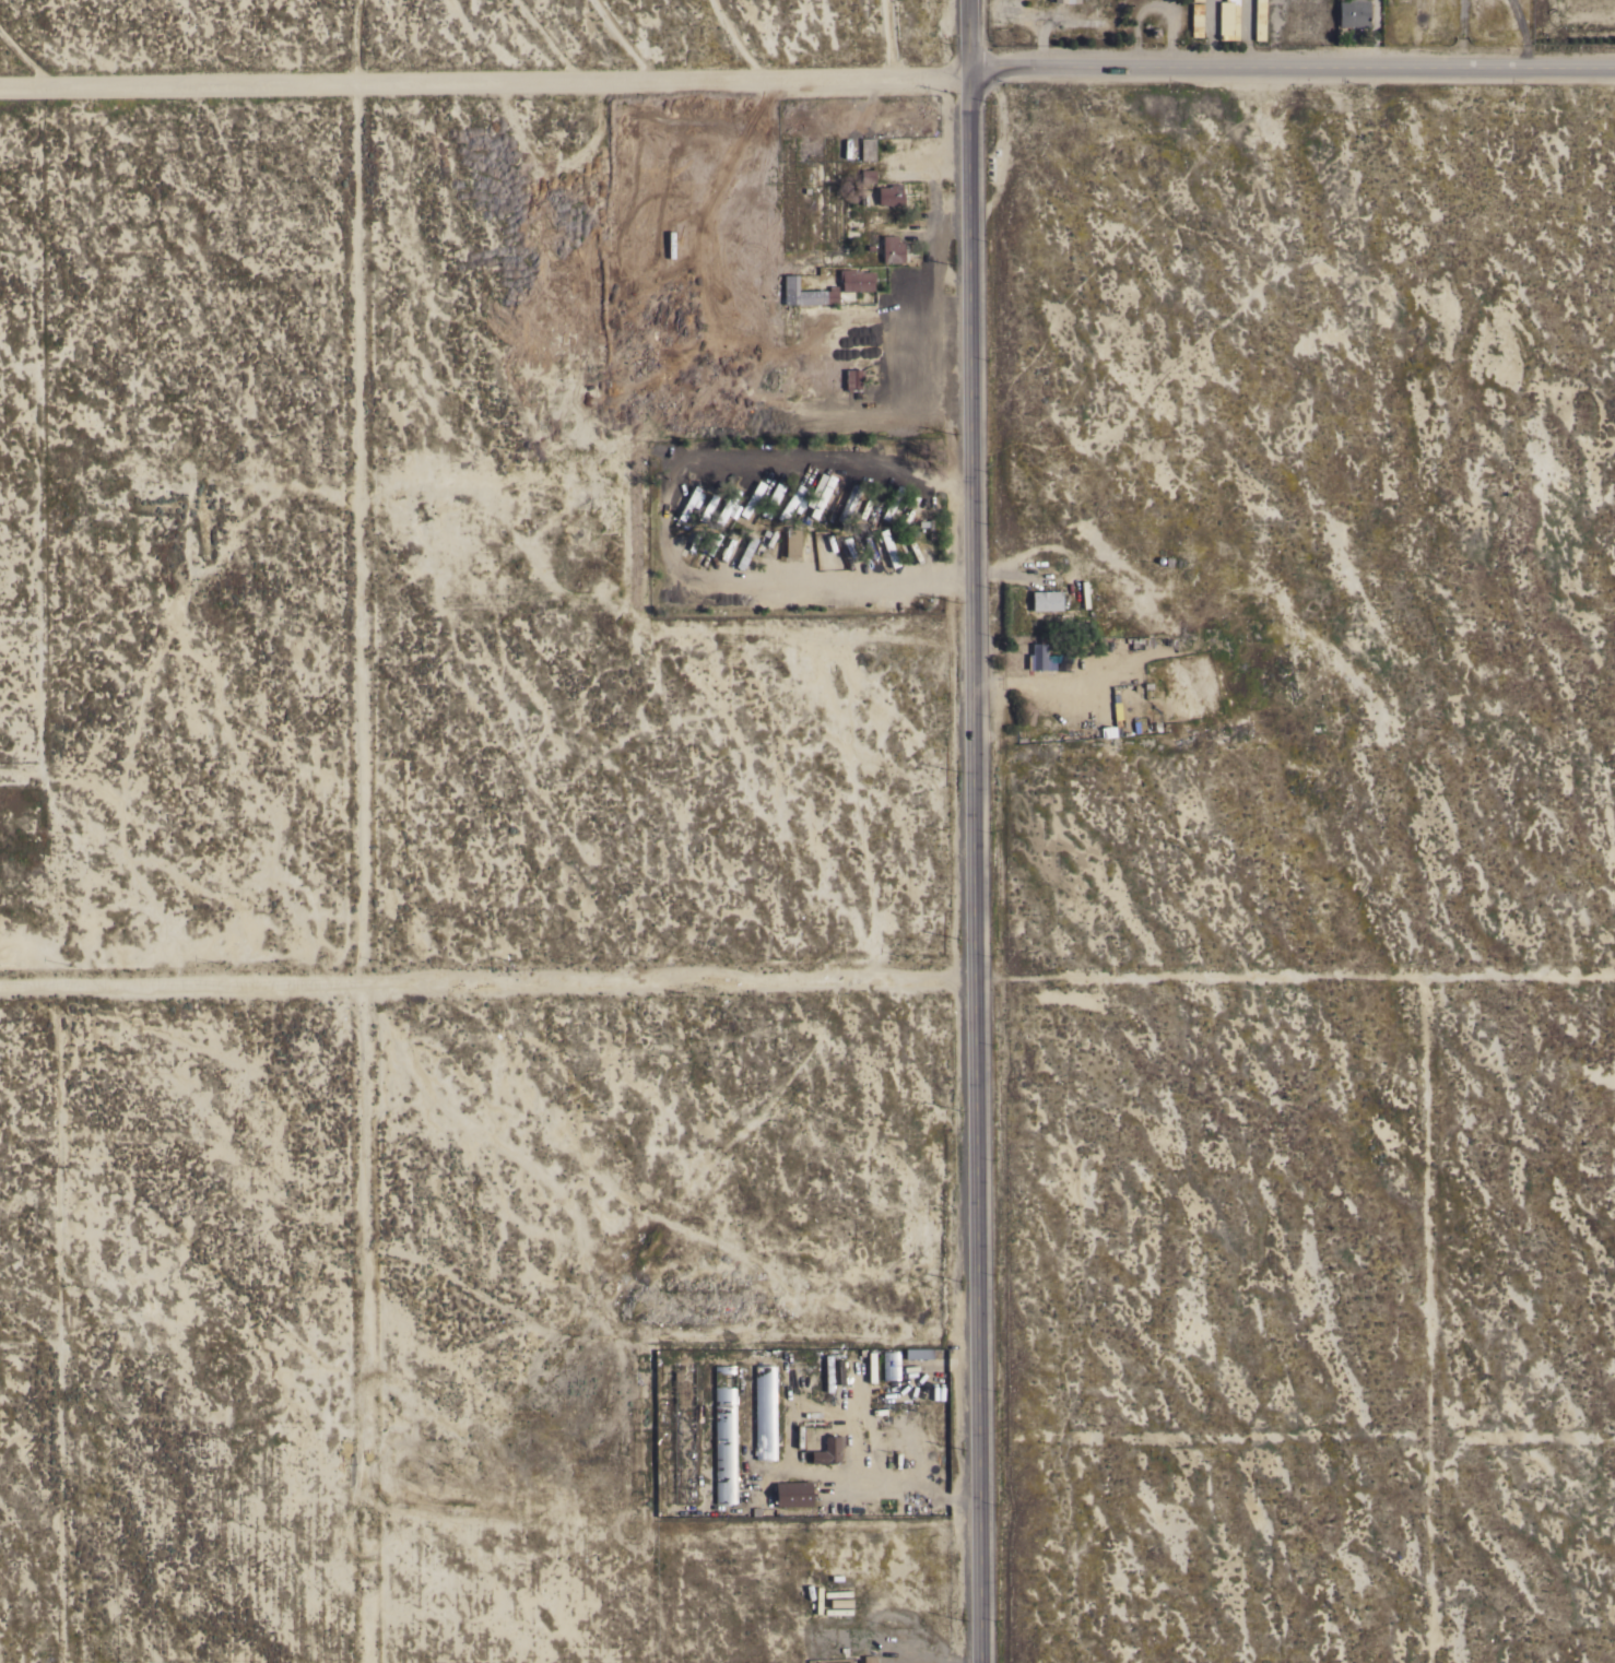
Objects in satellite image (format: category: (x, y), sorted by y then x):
building: (1066, 1)
building: (1353, 13)
building: (1196, 20)
building: (1228, 20)
building: (1259, 20)
road: (1466, 37)
road: (1294, 75)
road: (486, 83)
building: (867, 149)
building: (867, 175)
building: (889, 194)
building: (892, 249)
building: (860, 280)
building: (821, 295)
building: (852, 378)
building: (805, 496)
building: (769, 500)
building: (727, 503)
road: (668, 521)
building: (791, 542)
building: (1046, 600)
building: (1039, 656)
road: (974, 831)
road: (350, 874)
road: (487, 989)
building: (918, 1353)
building: (889, 1365)
building: (871, 1366)
building: (764, 1411)
building: (683, 1416)
building: (724, 1434)
building: (828, 1450)
road: (894, 1489)
building: (684, 1491)
building: (793, 1494)
building: (836, 1593)
building: (837, 1611)
building: (867, 1659)

